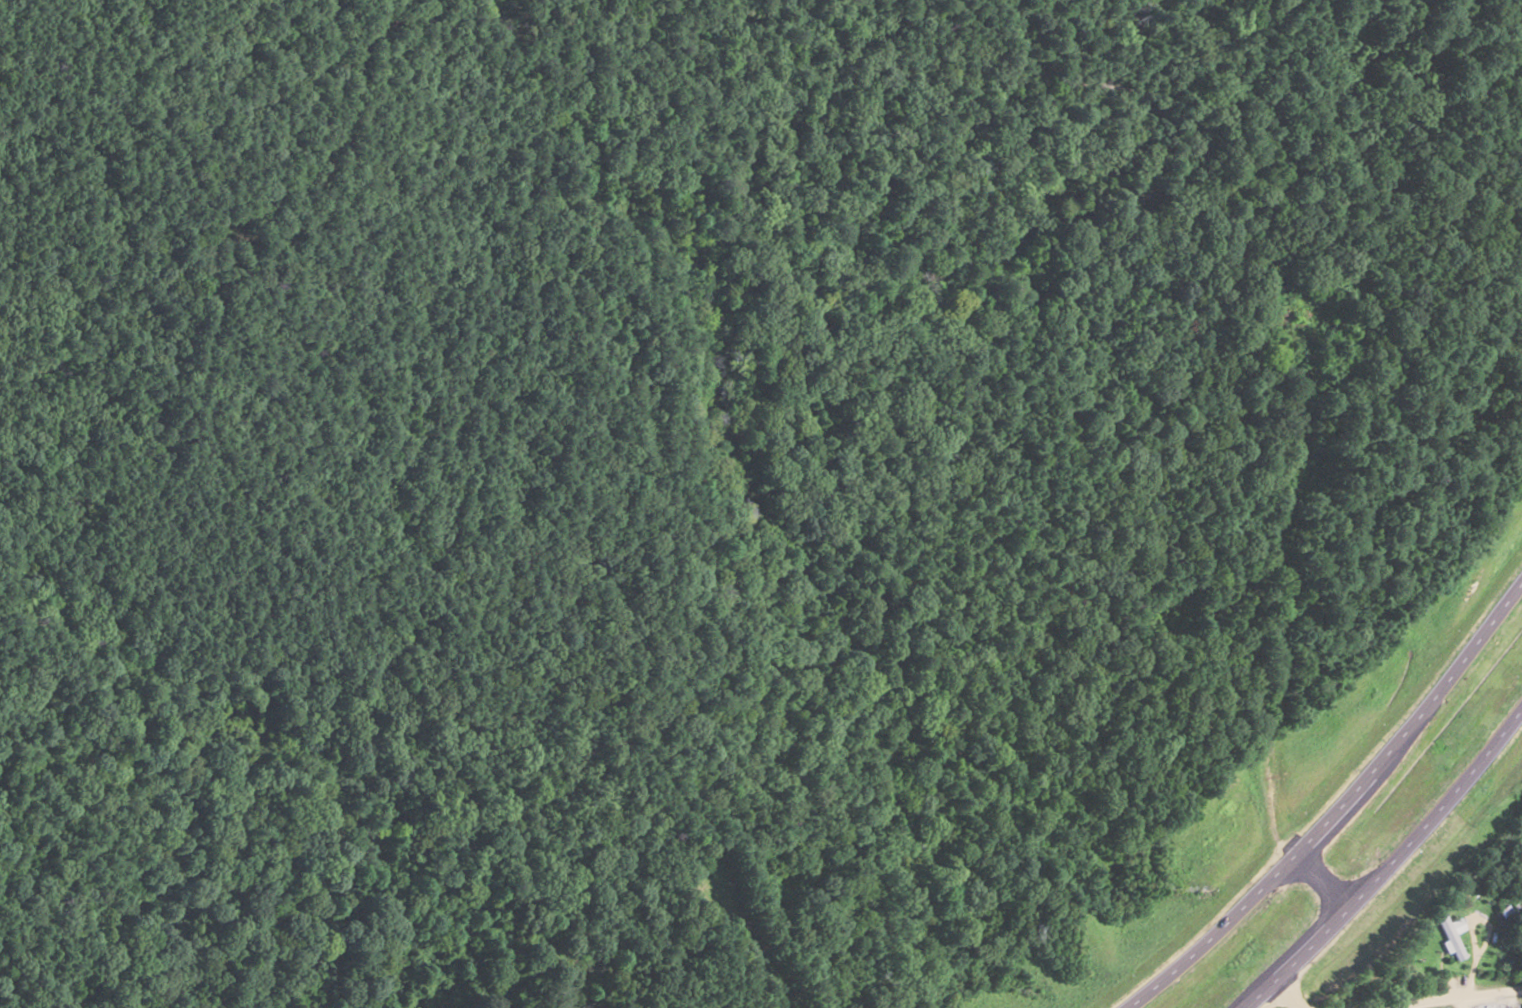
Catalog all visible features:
building: (1293, 318)
road: (1243, 636)
road: (1336, 800)
road: (100, 818)
road: (1388, 862)
road: (1289, 995)
road: (1450, 997)

